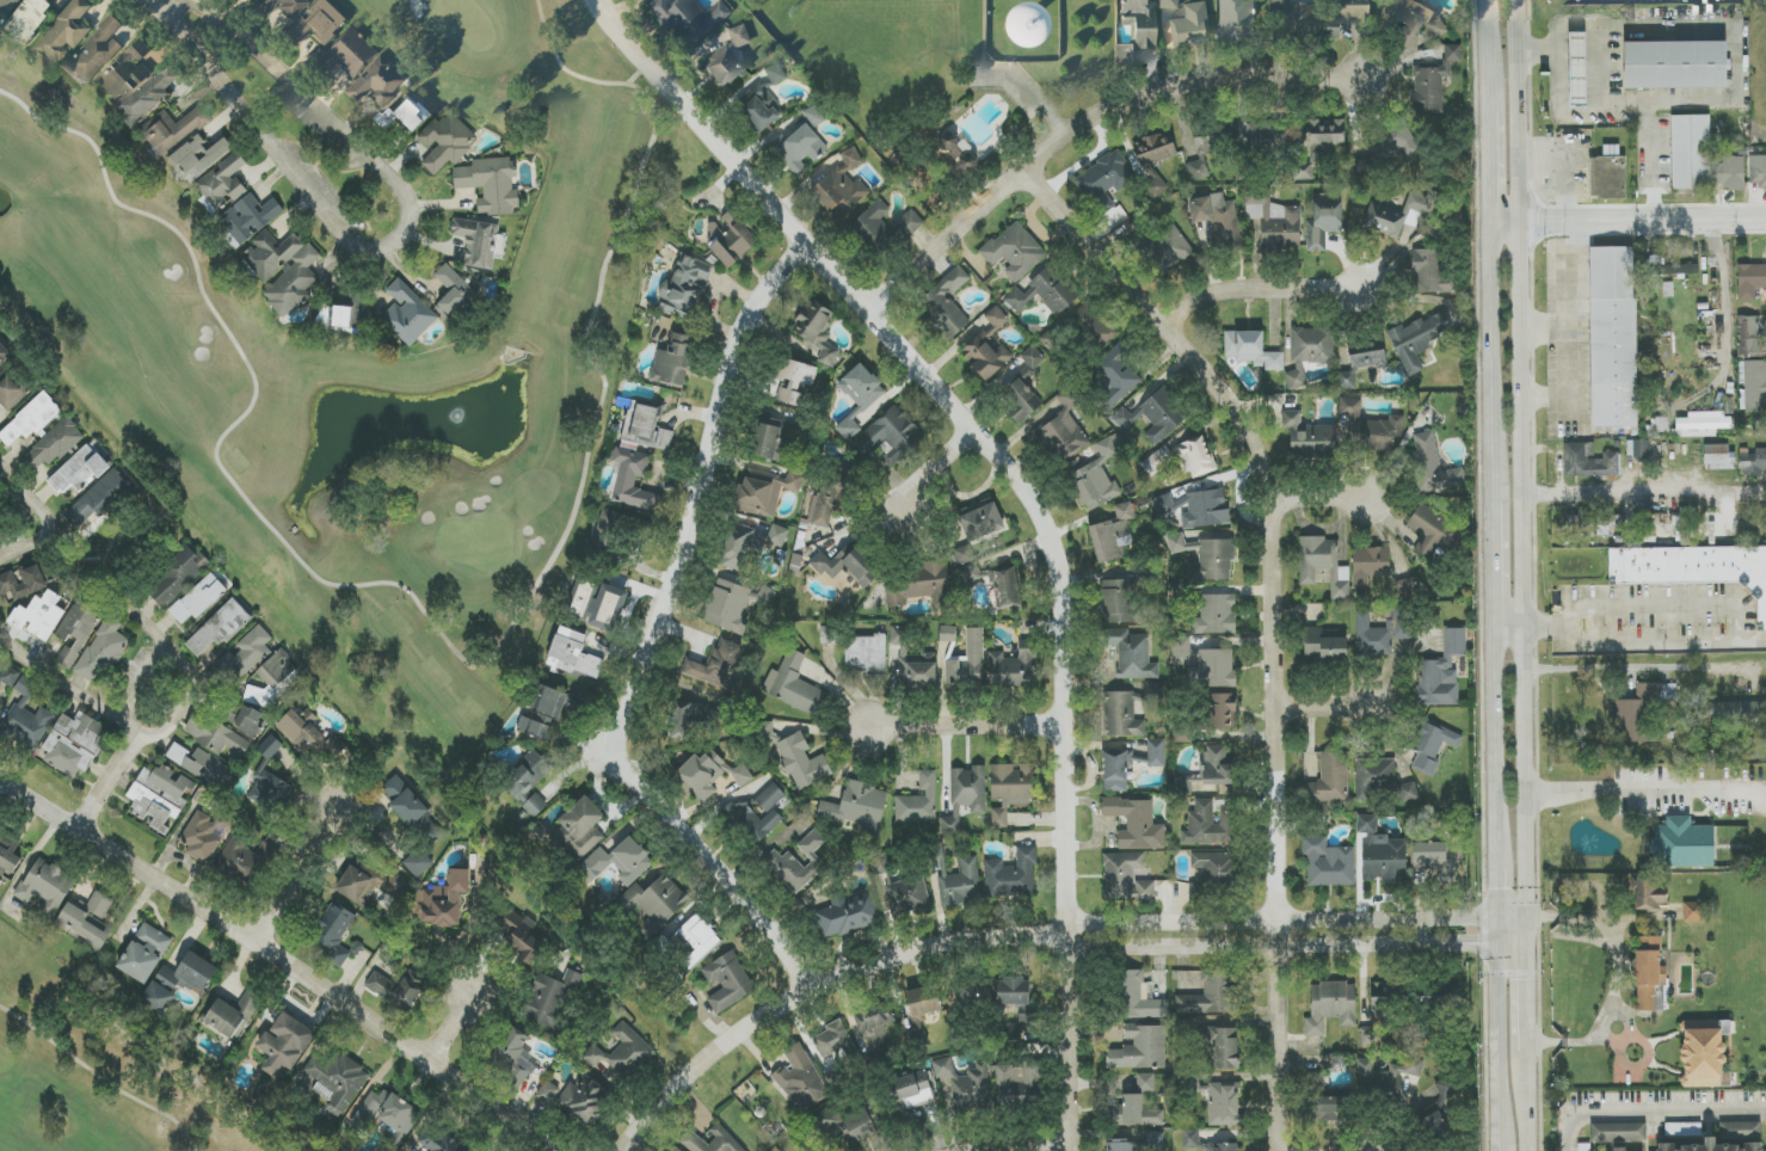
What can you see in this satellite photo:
road: (592, 2)
road: (592, 2)
building: (1167, 2)
building: (279, 5)
building: (5, 8)
building: (1349, 10)
building: (688, 14)
building: (1298, 16)
building: (25, 17)
building: (1235, 17)
building: (1405, 19)
building: (1139, 20)
building: (314, 21)
building: (1188, 25)
building: (1435, 26)
building: (61, 31)
building: (737, 33)
road: (1736, 43)
building: (349, 50)
building: (91, 51)
building: (1121, 51)
road: (1487, 55)
building: (724, 64)
building: (1675, 64)
building: (123, 69)
building: (1577, 69)
building: (776, 74)
building: (374, 80)
building: (1433, 81)
building: (144, 94)
road: (1023, 98)
road: (313, 104)
building: (761, 109)
road: (1579, 109)
building: (404, 113)
building: (813, 117)
road: (1082, 128)
building: (172, 130)
building: (1266, 134)
building: (1392, 140)
building: (445, 142)
road: (269, 144)
building: (1319, 144)
building: (799, 148)
building: (1155, 149)
building: (1691, 152)
building: (199, 156)
building: (1204, 156)
road: (1489, 165)
building: (1362, 166)
building: (1758, 171)
building: (1730, 172)
building: (1608, 174)
building: (1106, 180)
building: (222, 184)
building: (491, 184)
building: (842, 184)
building: (1157, 185)
building: (934, 195)
building: (1399, 214)
building: (1217, 217)
building: (248, 220)
road: (1627, 220)
building: (1324, 221)
building: (1275, 222)
building: (884, 227)
building: (1256, 230)
building: (731, 240)
building: (479, 242)
building: (1164, 250)
building: (1015, 251)
building: (1675, 269)
building: (299, 272)
building: (1430, 272)
building: (1749, 281)
building: (685, 288)
road: (1253, 290)
building: (453, 293)
building: (1045, 293)
building: (946, 302)
road: (1723, 308)
building: (407, 314)
building: (334, 318)
building: (1084, 319)
building: (817, 330)
road: (1571, 330)
road: (1546, 331)
building: (1613, 337)
building: (1750, 337)
building: (1419, 338)
building: (987, 347)
building: (1251, 350)
building: (4, 353)
building: (1364, 359)
road: (1491, 361)
building: (672, 362)
building: (1032, 362)
building: (1116, 375)
park: (362, 381)
building: (790, 381)
building: (1755, 386)
building: (10, 390)
building: (859, 398)
building: (1017, 400)
building: (1155, 416)
building: (30, 420)
building: (1703, 424)
building: (1760, 424)
building: (1370, 426)
building: (646, 427)
building: (1063, 430)
building: (890, 435)
building: (1309, 437)
building: (771, 442)
building: (54, 445)
building: (1641, 449)
road: (1524, 453)
building: (1196, 456)
building: (1718, 457)
building: (1157, 461)
building: (1589, 461)
building: (1753, 462)
building: (1433, 466)
building: (81, 469)
road: (939, 472)
building: (1097, 476)
building: (632, 480)
building: (765, 492)
road: (1645, 493)
building: (832, 496)
building: (99, 498)
road: (1027, 500)
road: (1313, 501)
building: (1163, 505)
building: (1207, 509)
building: (982, 521)
building: (1675, 523)
building: (1606, 524)
building: (1712, 524)
building: (608, 531)
building: (1113, 535)
building: (1433, 535)
building: (777, 536)
building: (744, 541)
road: (26, 546)
building: (962, 555)
road: (1495, 558)
building: (1207, 559)
building: (1323, 565)
building: (1370, 565)
building: (845, 566)
building: (1693, 568)
building: (972, 573)
building: (177, 577)
building: (23, 581)
building: (922, 586)
building: (1005, 589)
building: (198, 599)
building: (1120, 603)
road: (1663, 603)
building: (736, 605)
building: (607, 608)
road: (124, 609)
building: (1216, 615)
road: (1510, 615)
building: (39, 616)
road: (1275, 617)
building: (217, 629)
building: (76, 632)
building: (1382, 633)
building: (948, 634)
building: (830, 635)
road: (656, 641)
road: (1641, 645)
building: (1323, 646)
building: (101, 652)
building: (866, 654)
building: (1131, 654)
building: (246, 655)
building: (573, 655)
building: (0, 661)
building: (912, 661)
building: (967, 661)
building: (1205, 663)
building: (718, 666)
building: (1014, 667)
road: (1635, 669)
building: (1441, 672)
building: (10, 676)
building: (273, 679)
road: (140, 682)
road: (67, 684)
building: (794, 685)
road: (1325, 709)
building: (1128, 710)
building: (1223, 712)
building: (1637, 712)
building: (1737, 713)
building: (543, 714)
building: (26, 718)
building: (241, 718)
building: (688, 720)
road: (972, 727)
building: (309, 734)
building: (215, 735)
road: (1497, 743)
building: (75, 744)
building: (1432, 745)
building: (1156, 752)
building: (802, 762)
building: (199, 764)
building: (1217, 767)
building: (1115, 771)
building: (709, 774)
building: (1333, 776)
building: (269, 781)
building: (1382, 781)
road: (109, 783)
building: (528, 783)
building: (1011, 784)
building: (966, 795)
building: (160, 796)
road: (1643, 796)
building: (769, 798)
building: (405, 801)
building: (919, 802)
building: (857, 806)
building: (999, 818)
building: (755, 819)
building: (1136, 824)
building: (1208, 825)
building: (582, 827)
building: (201, 838)
building: (1682, 844)
building: (8, 854)
building: (1382, 854)
building: (1436, 860)
building: (247, 861)
building: (620, 861)
building: (418, 863)
building: (798, 863)
building: (1328, 863)
building: (1213, 872)
building: (1011, 875)
building: (1125, 878)
road: (300, 881)
building: (960, 882)
building: (47, 886)
building: (369, 886)
road: (1499, 888)
building: (899, 891)
building: (1650, 894)
building: (445, 900)
building: (653, 904)
building: (1693, 912)
road: (1499, 913)
road: (1526, 913)
building: (848, 915)
road: (1272, 919)
building: (90, 921)
road: (469, 931)
building: (334, 933)
road: (1499, 933)
road: (1526, 933)
building: (522, 938)
building: (699, 938)
road: (1273, 947)
building: (144, 953)
road: (278, 965)
road: (1618, 974)
building: (1650, 977)
building: (178, 983)
building: (727, 983)
building: (396, 991)
building: (1013, 991)
building: (971, 993)
road: (801, 996)
building: (1211, 996)
building: (1440, 997)
building: (550, 998)
building: (1139, 998)
road: (1526, 998)
building: (1330, 1007)
building: (922, 1008)
road: (1499, 1009)
building: (230, 1015)
building: (1380, 1015)
building: (872, 1024)
building: (1024, 1024)
road: (450, 1027)
building: (832, 1040)
building: (285, 1044)
building: (515, 1048)
building: (1140, 1048)
building: (1225, 1048)
building: (623, 1052)
building: (1703, 1055)
road: (1527, 1061)
road: (100, 1078)
building: (801, 1079)
building: (1387, 1079)
park: (99, 1081)
building: (336, 1083)
building: (1142, 1084)
building: (966, 1085)
building: (912, 1090)
building: (548, 1092)
building: (586, 1098)
building: (1441, 1098)
building: (1325, 1100)
building: (1224, 1104)
road: (1651, 1109)
road: (1527, 1110)
road: (1499, 1112)
building: (387, 1114)
building: (856, 1127)
building: (1743, 1131)
building: (1618, 1132)
building: (721, 1134)
building: (1190, 1137)
building: (439, 1141)
building: (1153, 1141)
building: (1119, 1145)
road: (1015, 1146)
building: (1711, 1146)
building: (1583, 1147)
building: (1619, 1149)
building: (675, 1150)

